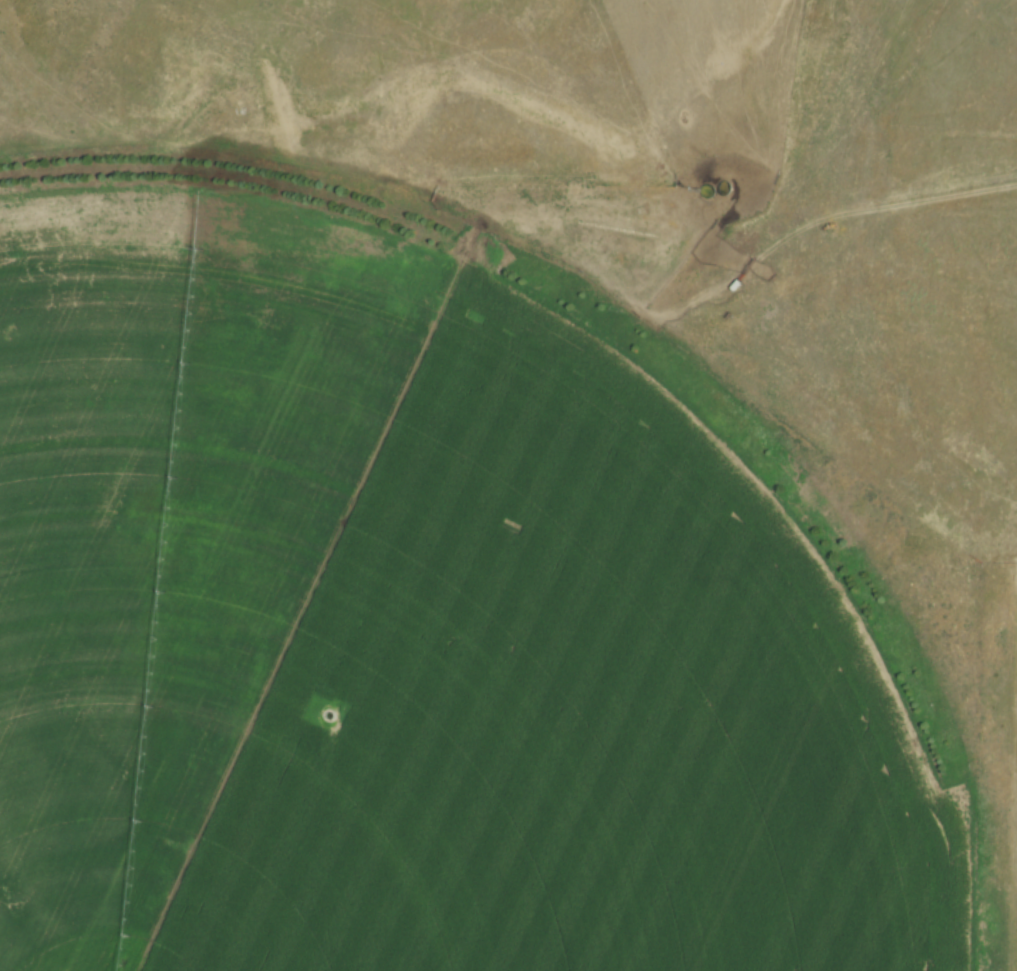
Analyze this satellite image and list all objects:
crop: (409, 629)

